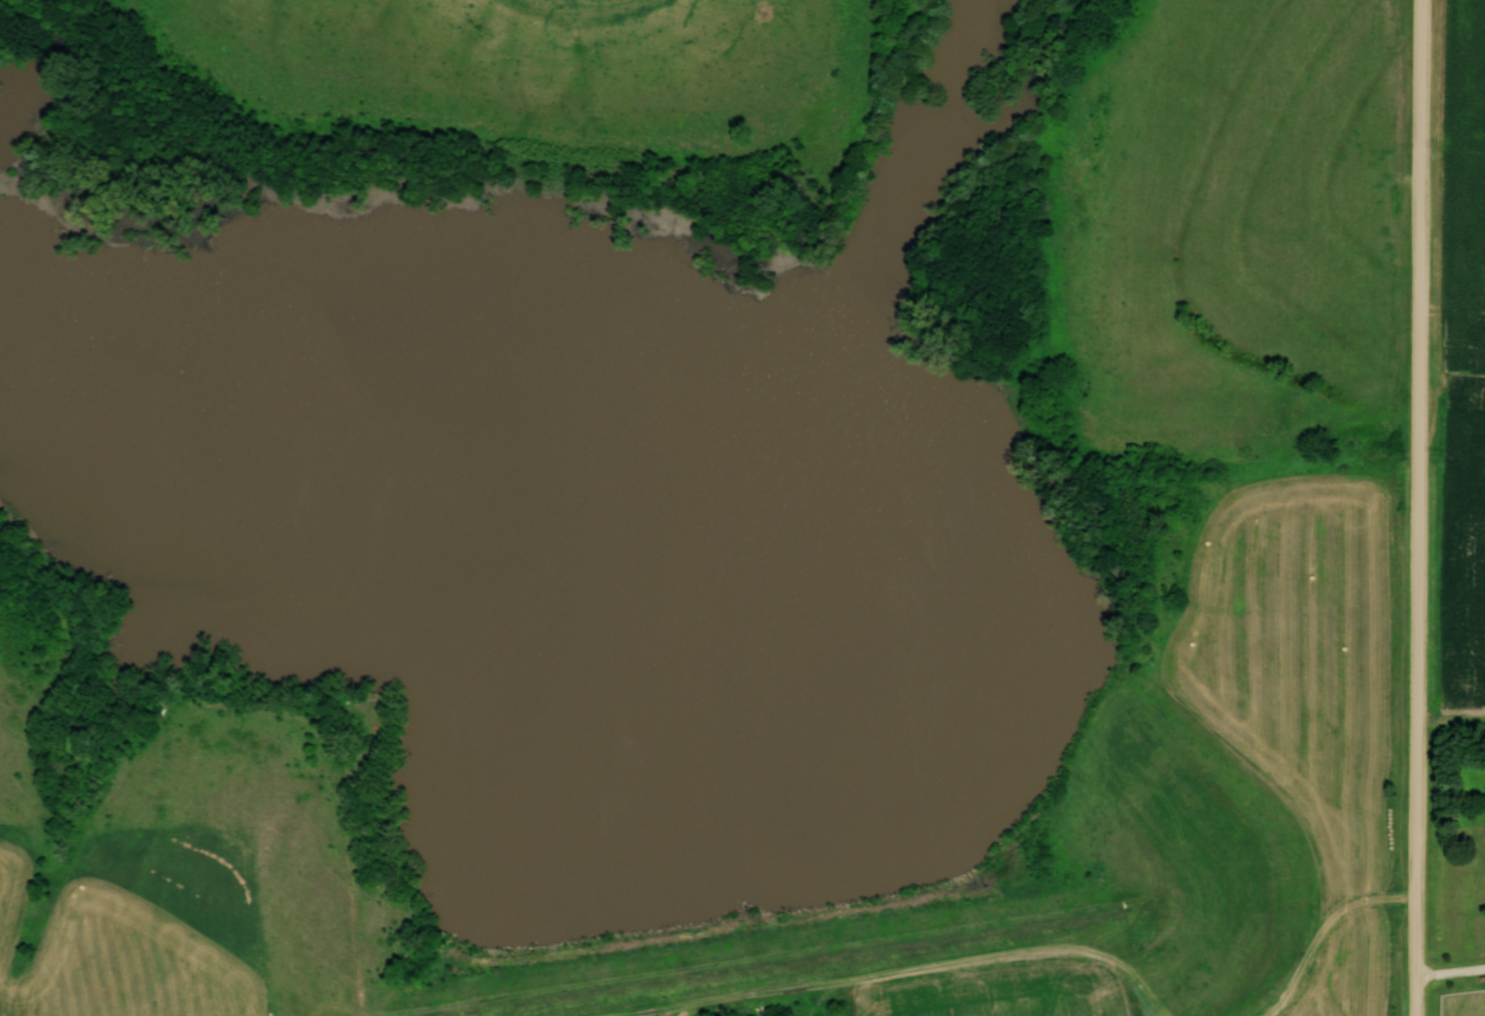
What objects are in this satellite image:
road: (1424, 507)
road: (1454, 976)

